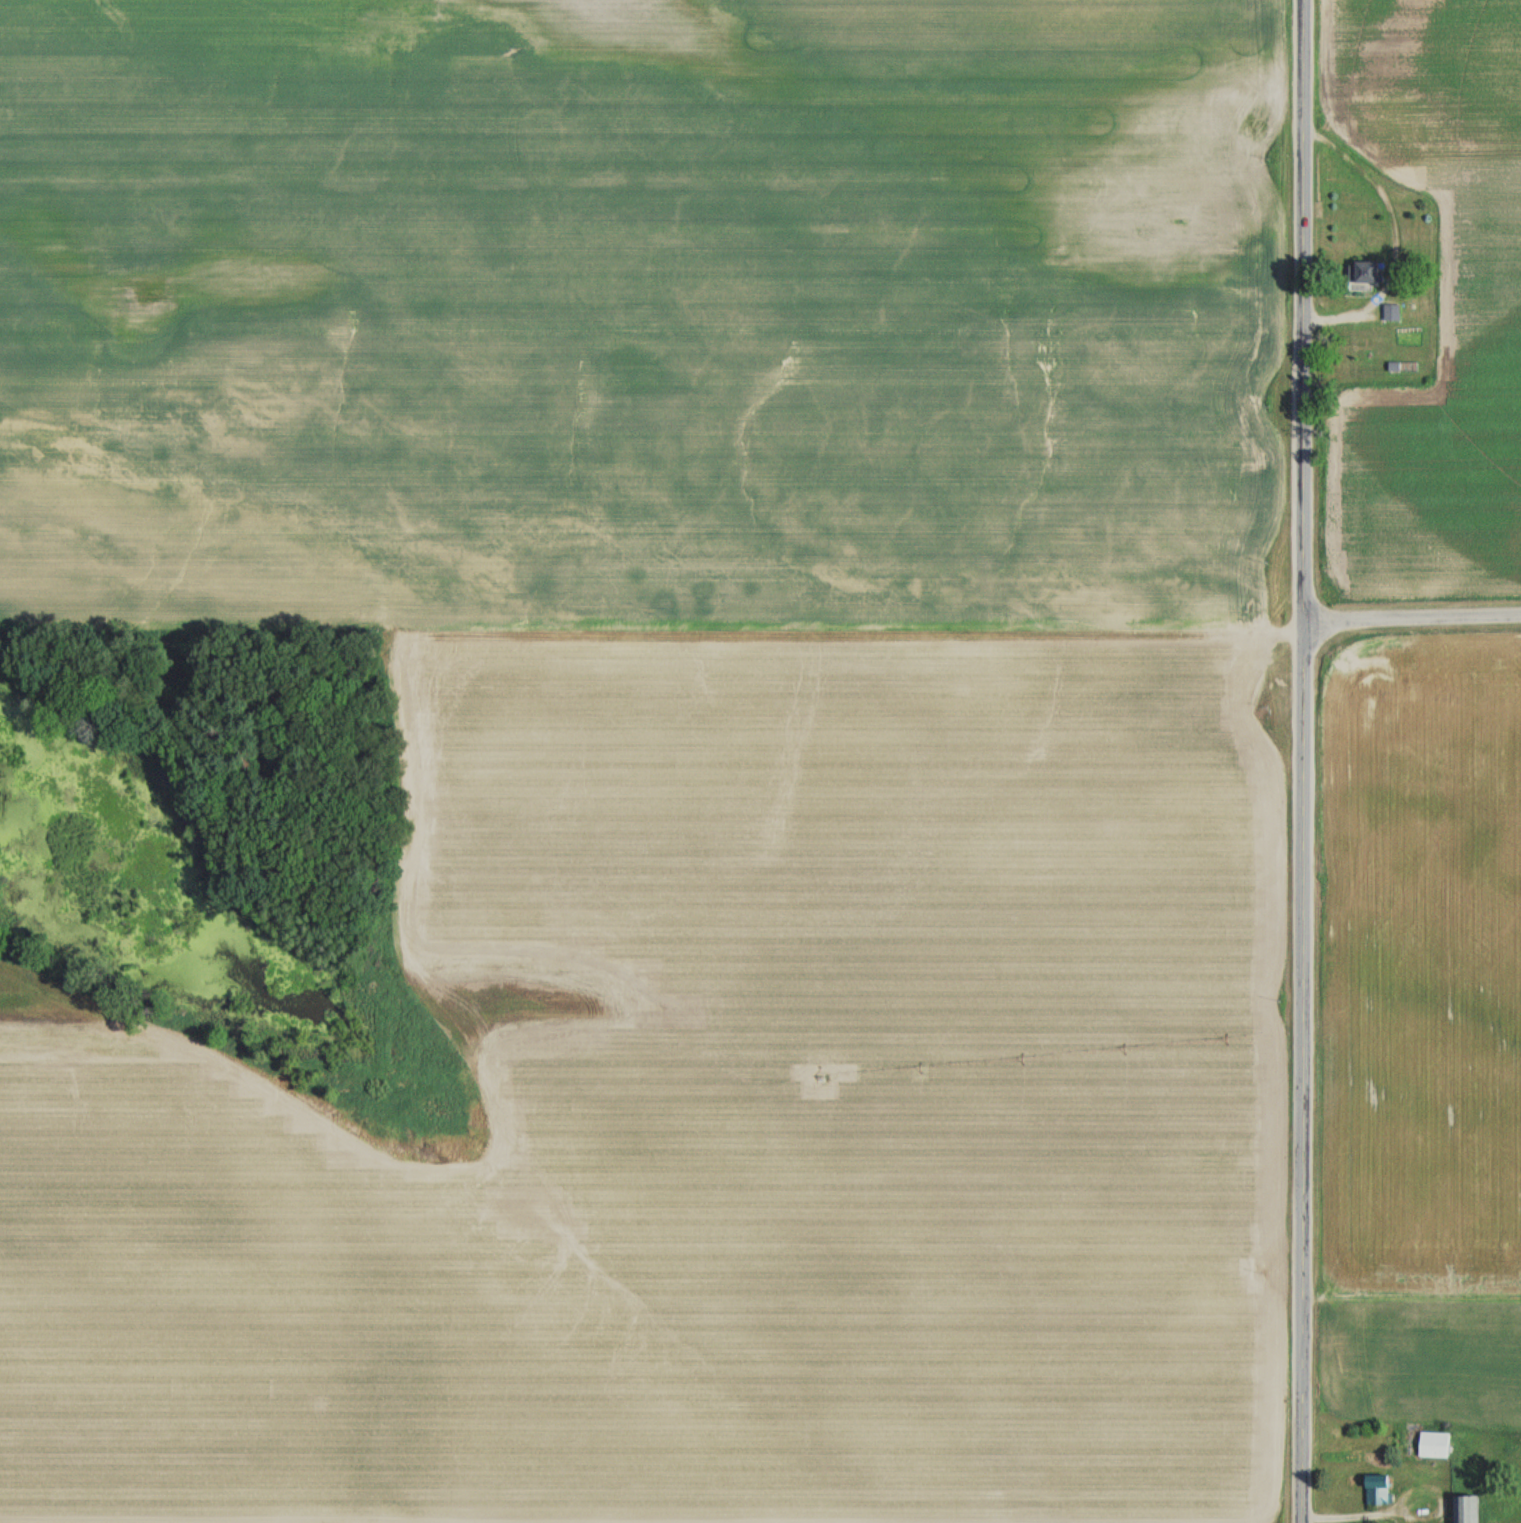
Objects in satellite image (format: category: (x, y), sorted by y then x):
building: (1362, 271)
building: (1390, 312)
road: (1410, 623)
road: (1300, 761)
building: (1433, 1445)
building: (1375, 1490)
building: (1463, 1509)
road: (1357, 1513)

